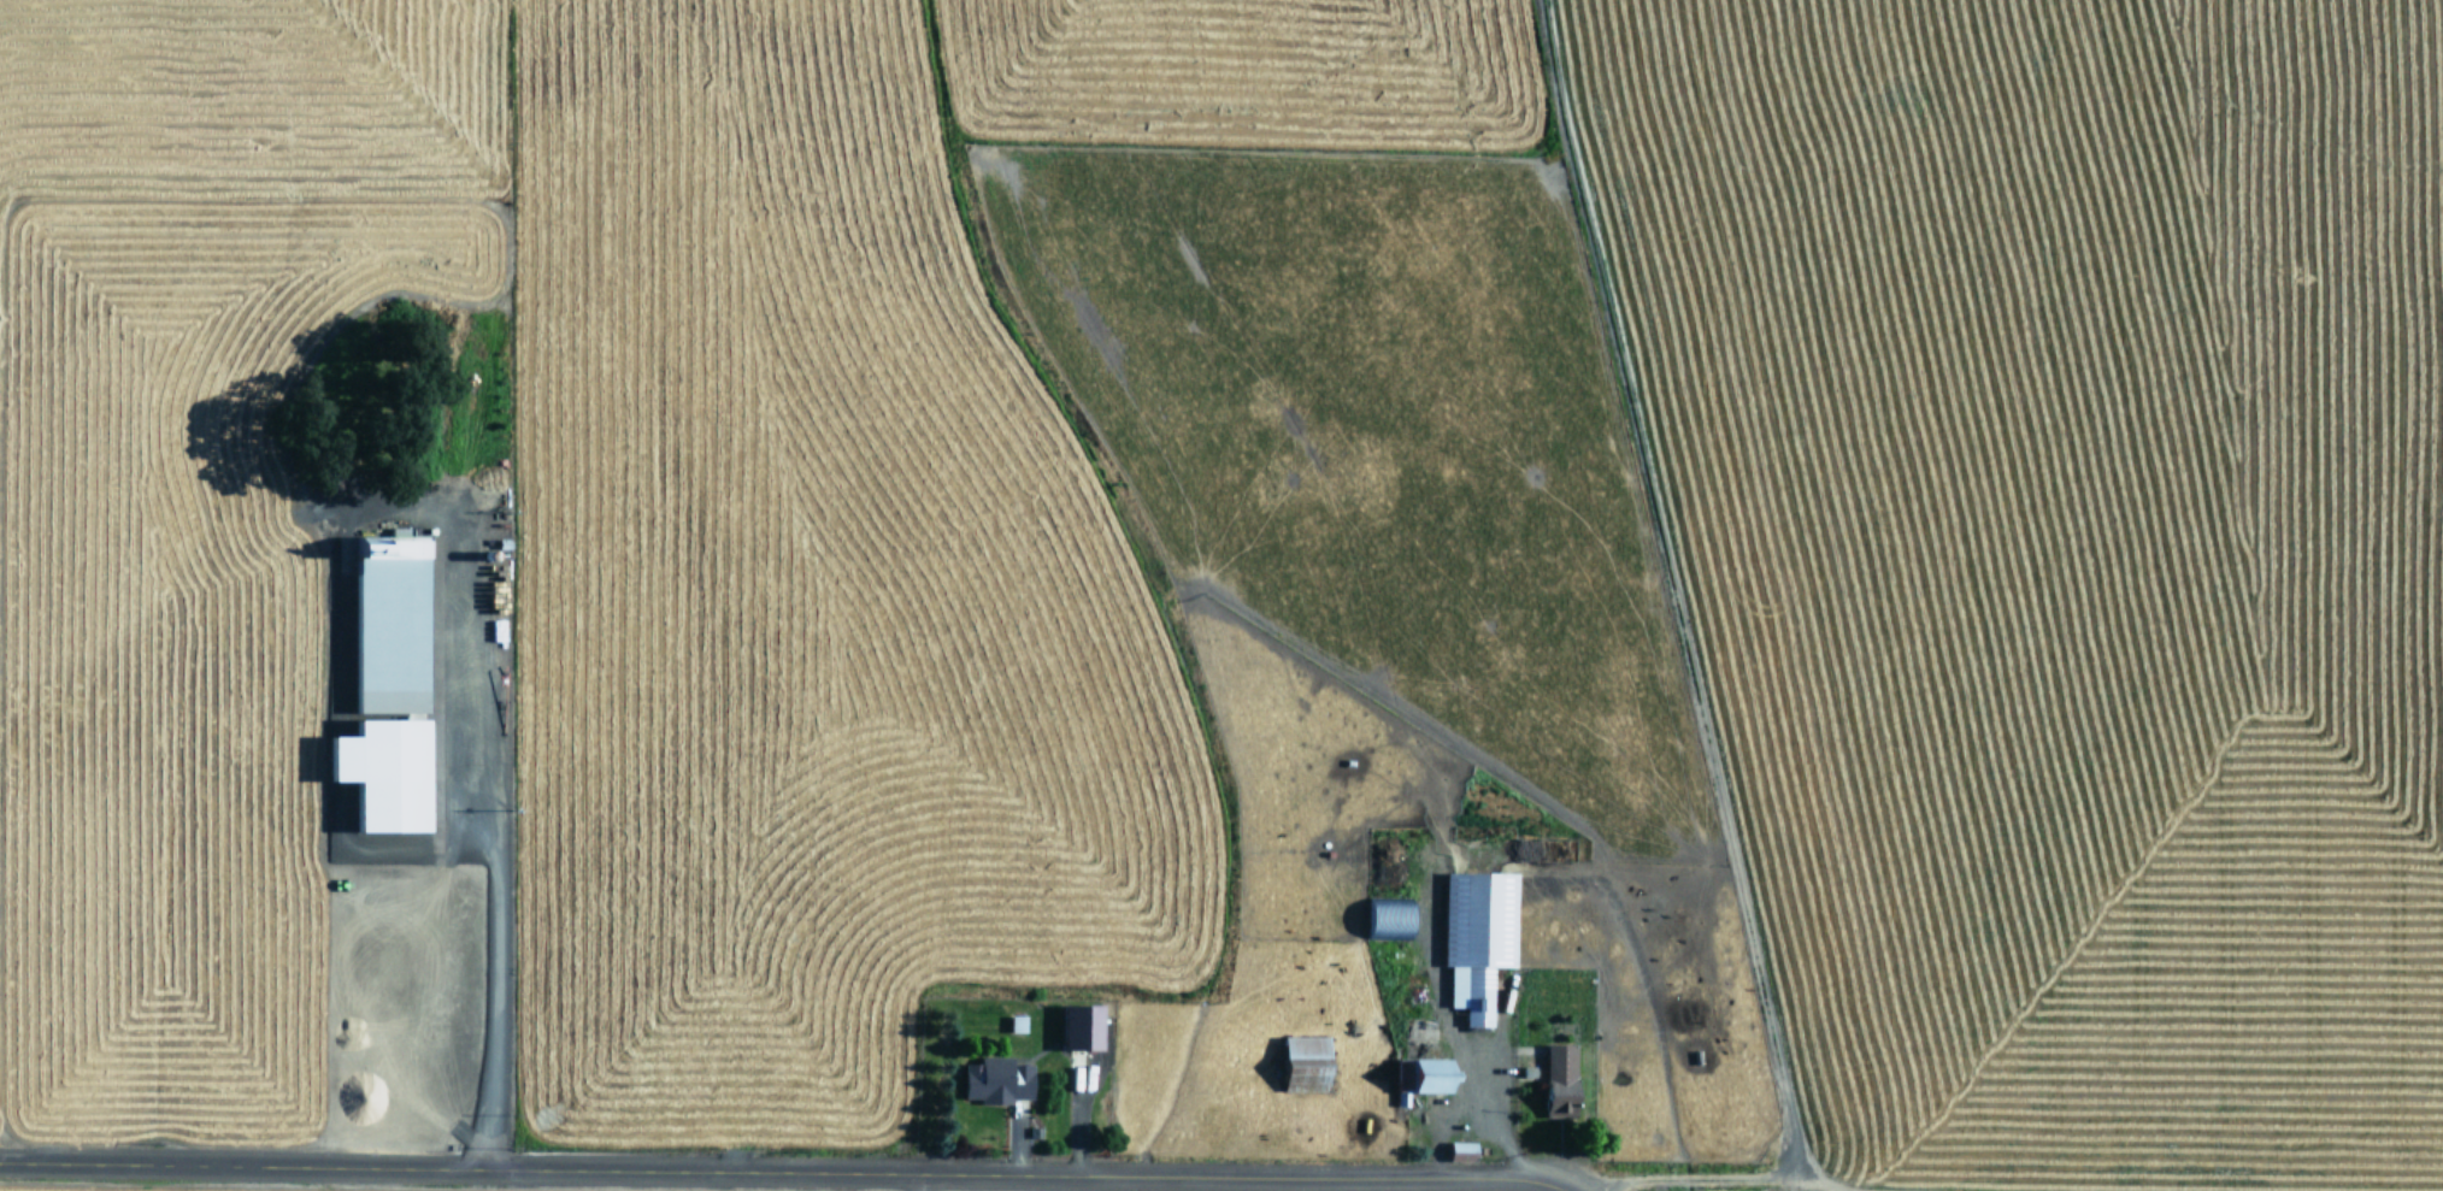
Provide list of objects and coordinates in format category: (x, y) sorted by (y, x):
crop: (1221, 595)
building: (388, 773)
building: (1393, 919)
building: (1480, 938)
building: (1087, 1027)
building: (1309, 1062)
building: (1426, 1077)
building: (999, 1080)
building: (1564, 1080)
road: (678, 1166)

